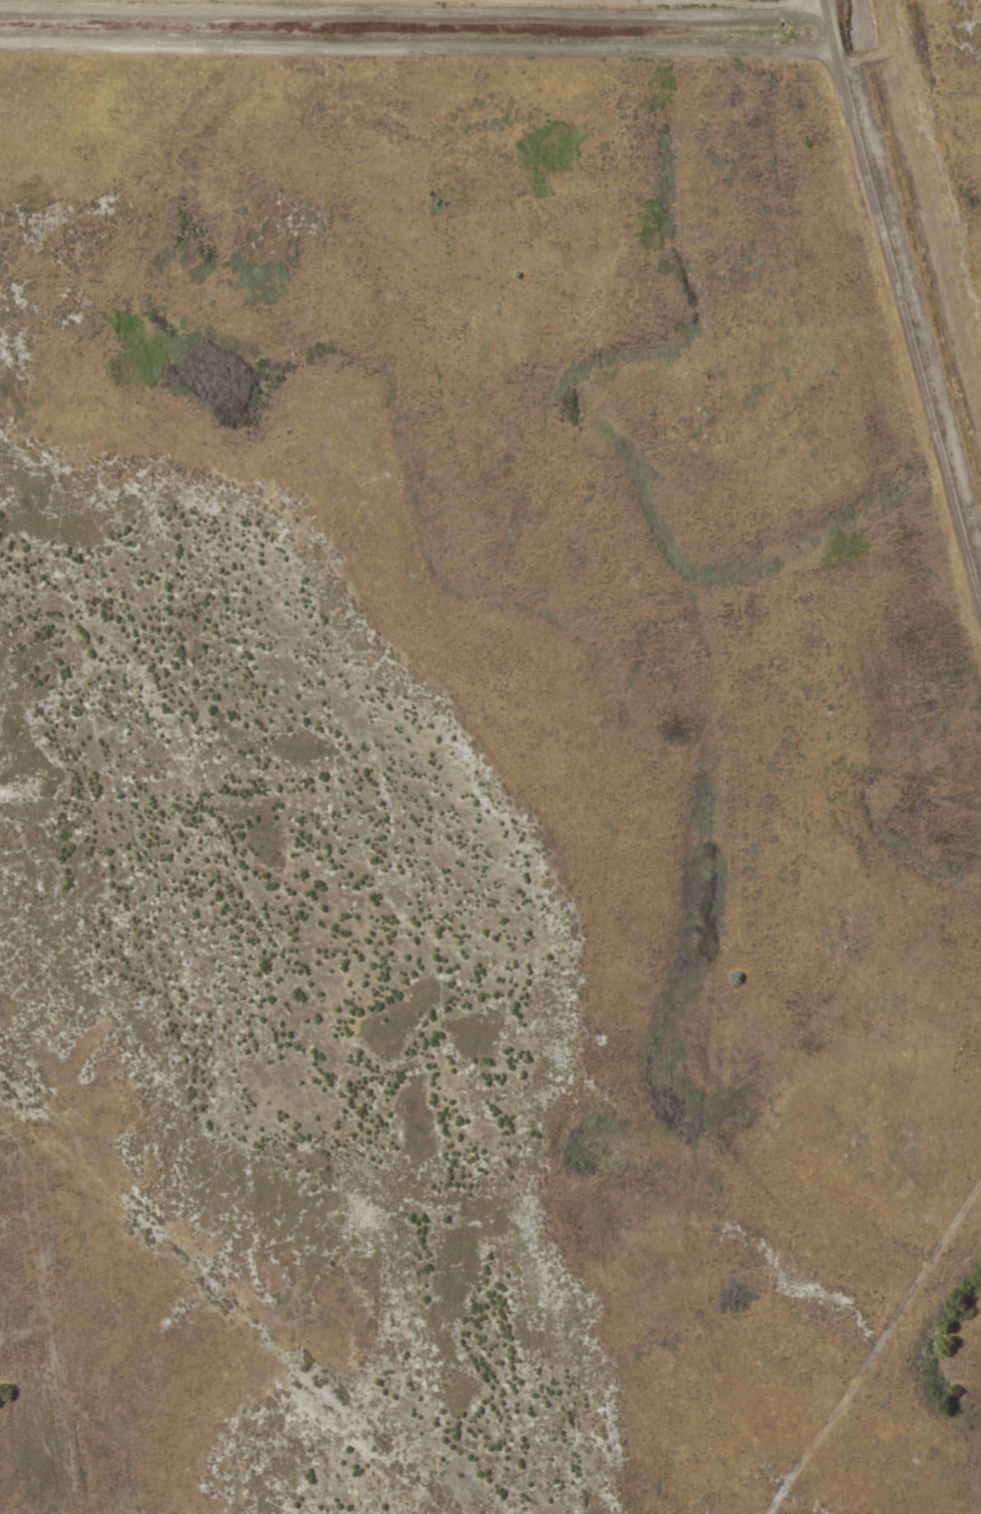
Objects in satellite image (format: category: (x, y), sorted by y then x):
road: (889, 339)

